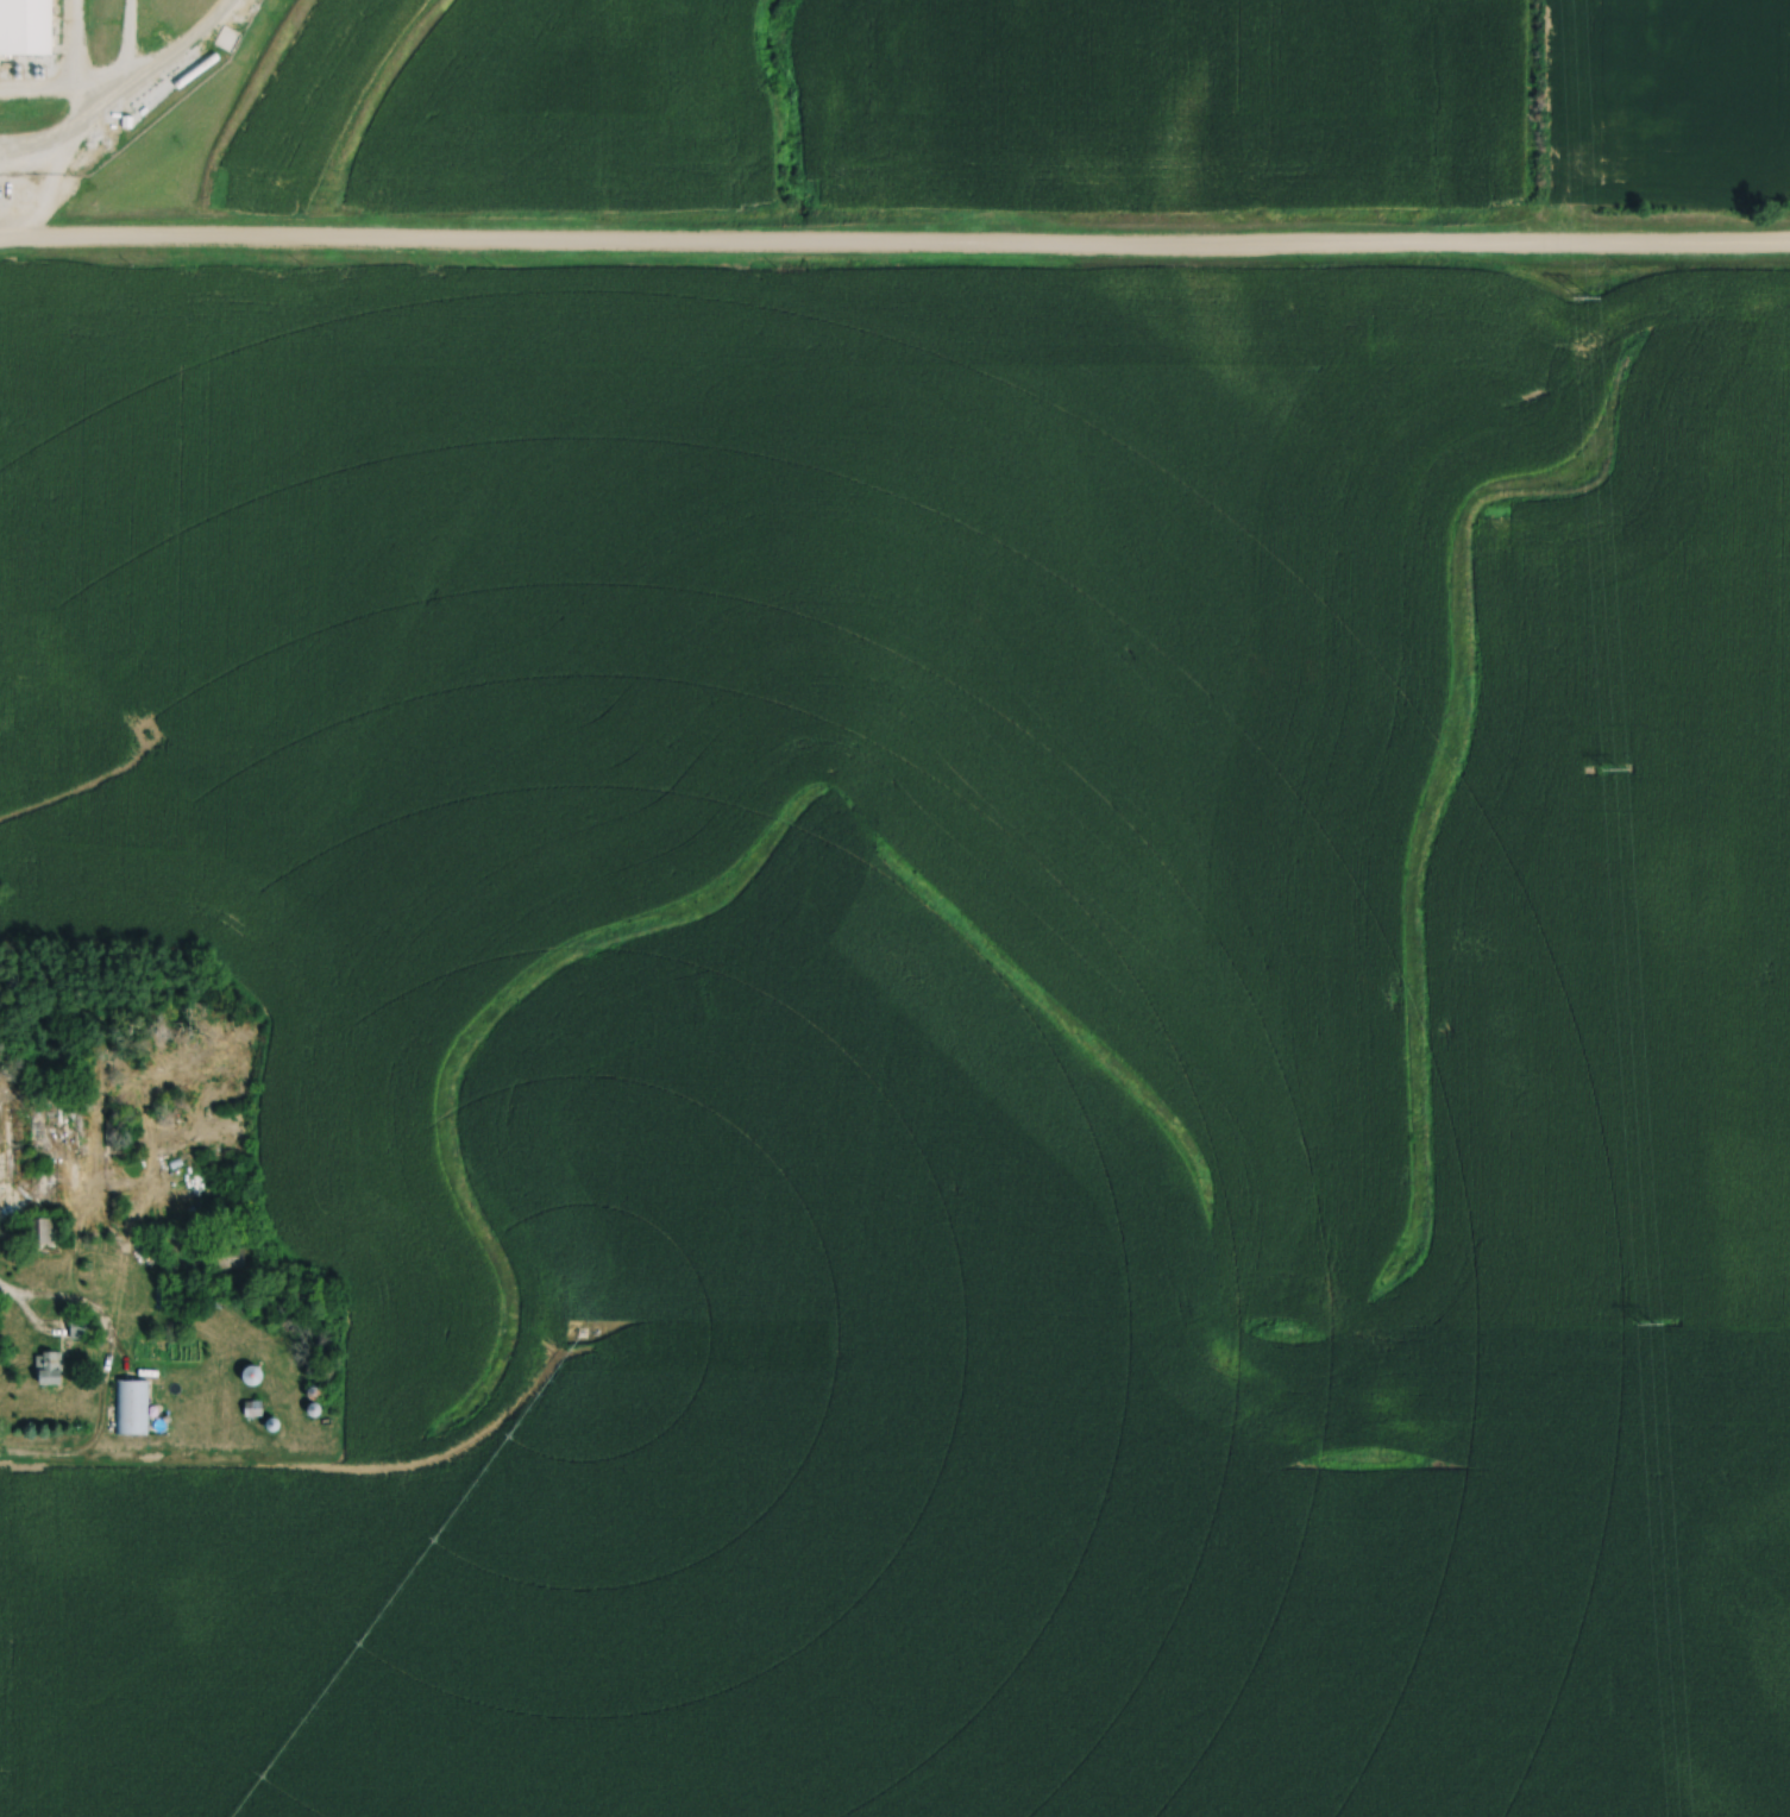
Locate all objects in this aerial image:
building: (11, 159)
road: (894, 246)
power tower: (1583, 296)
power tower: (1613, 772)
building: (43, 1231)
power tower: (1645, 1322)
building: (80, 1328)
building: (49, 1368)
building: (250, 1376)
road: (225, 1394)

